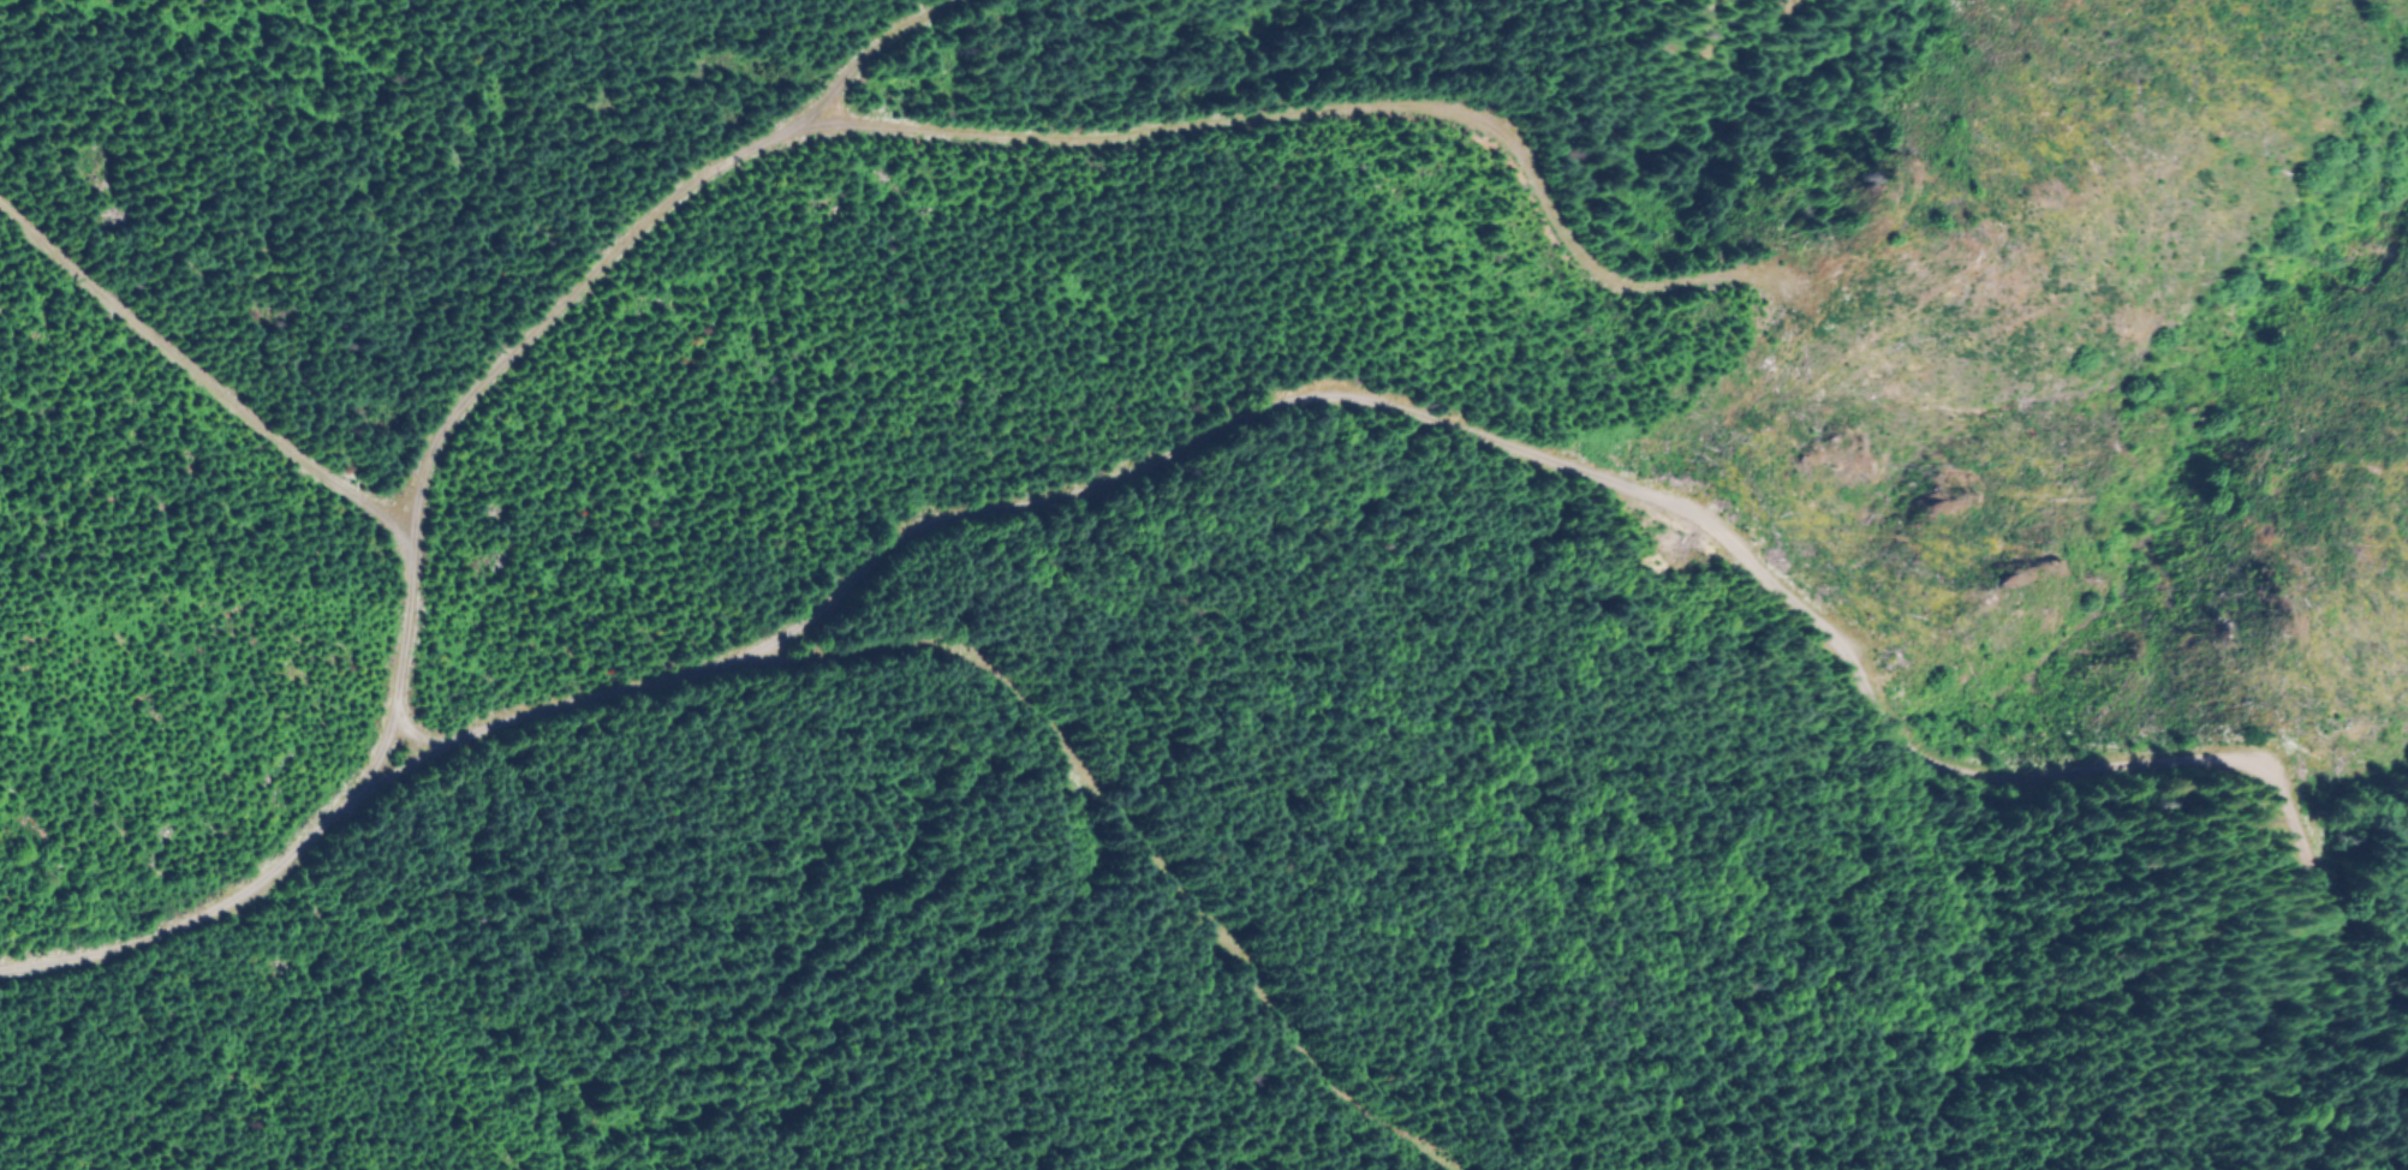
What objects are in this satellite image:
road: (205, 914)

